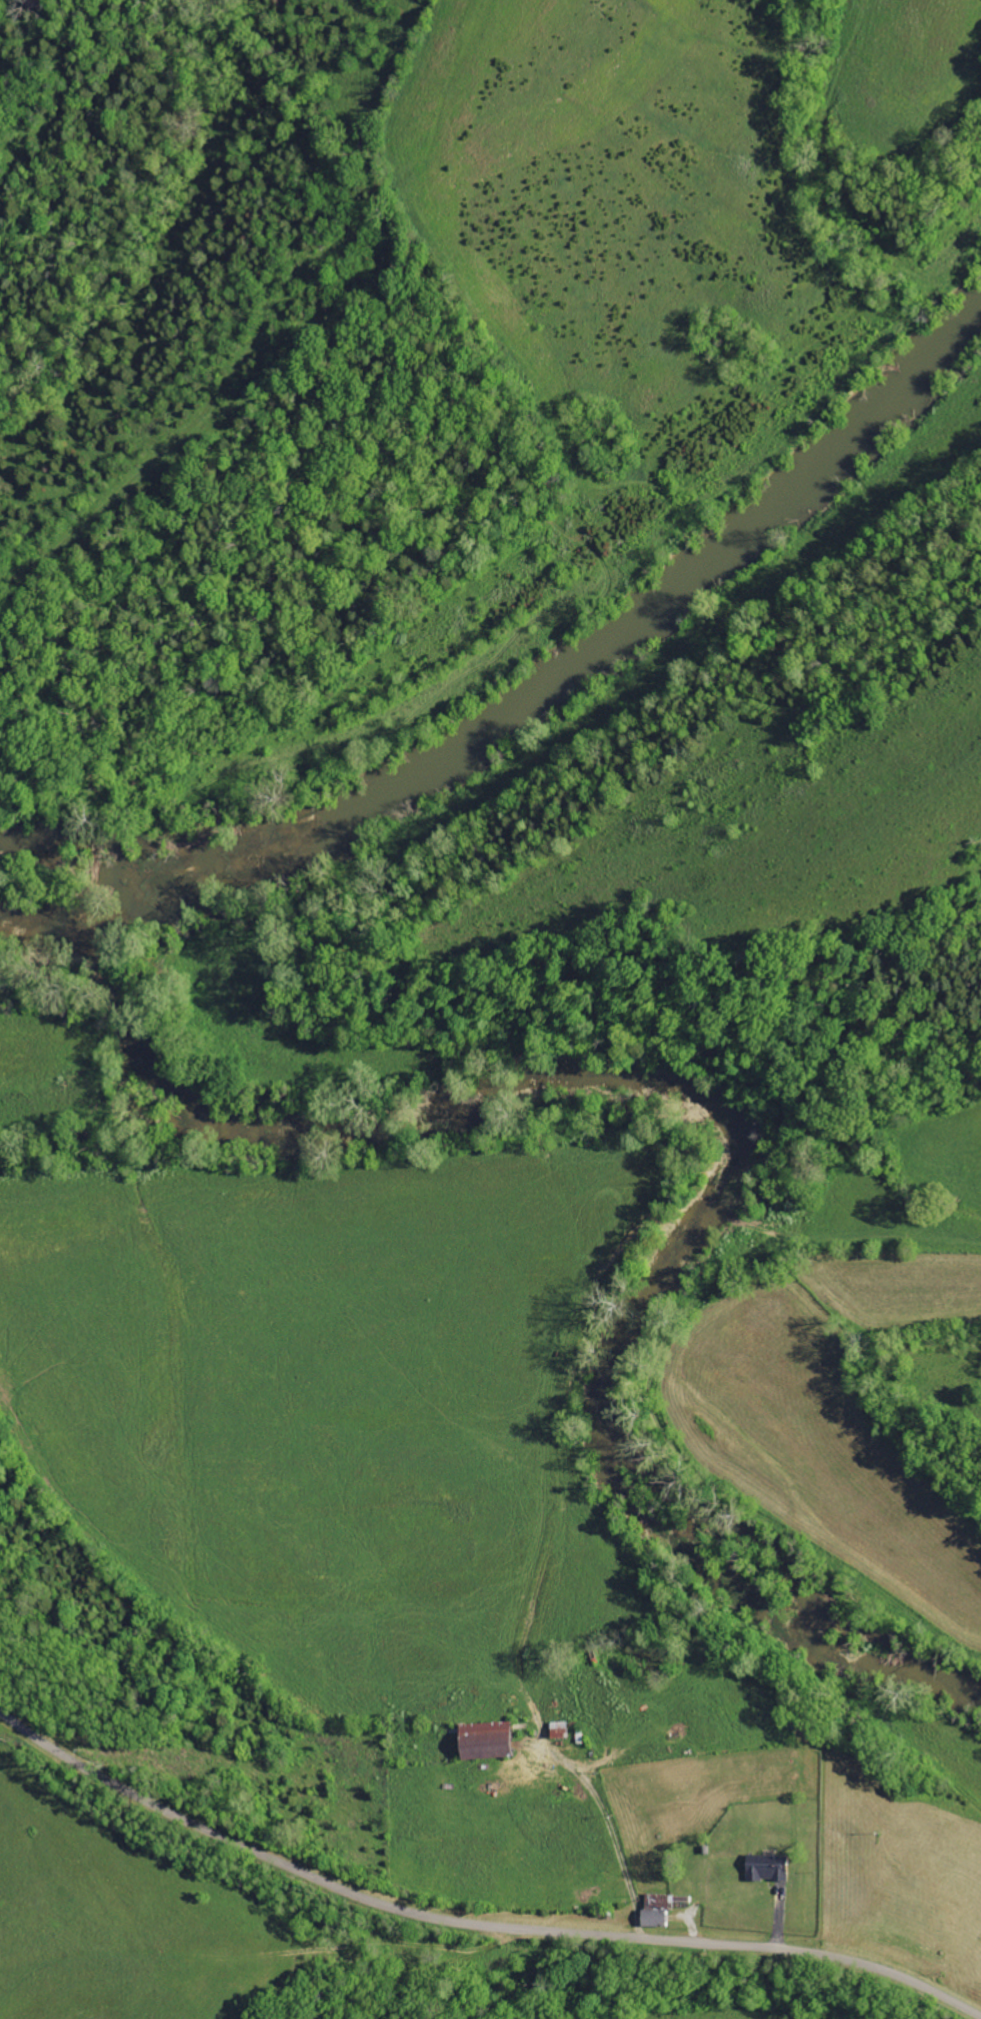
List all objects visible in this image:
road: (37, 20)
river: (534, 692)
building: (556, 1730)
building: (483, 1740)
road: (605, 1825)
building: (762, 1867)
building: (650, 1918)
road: (471, 1923)

